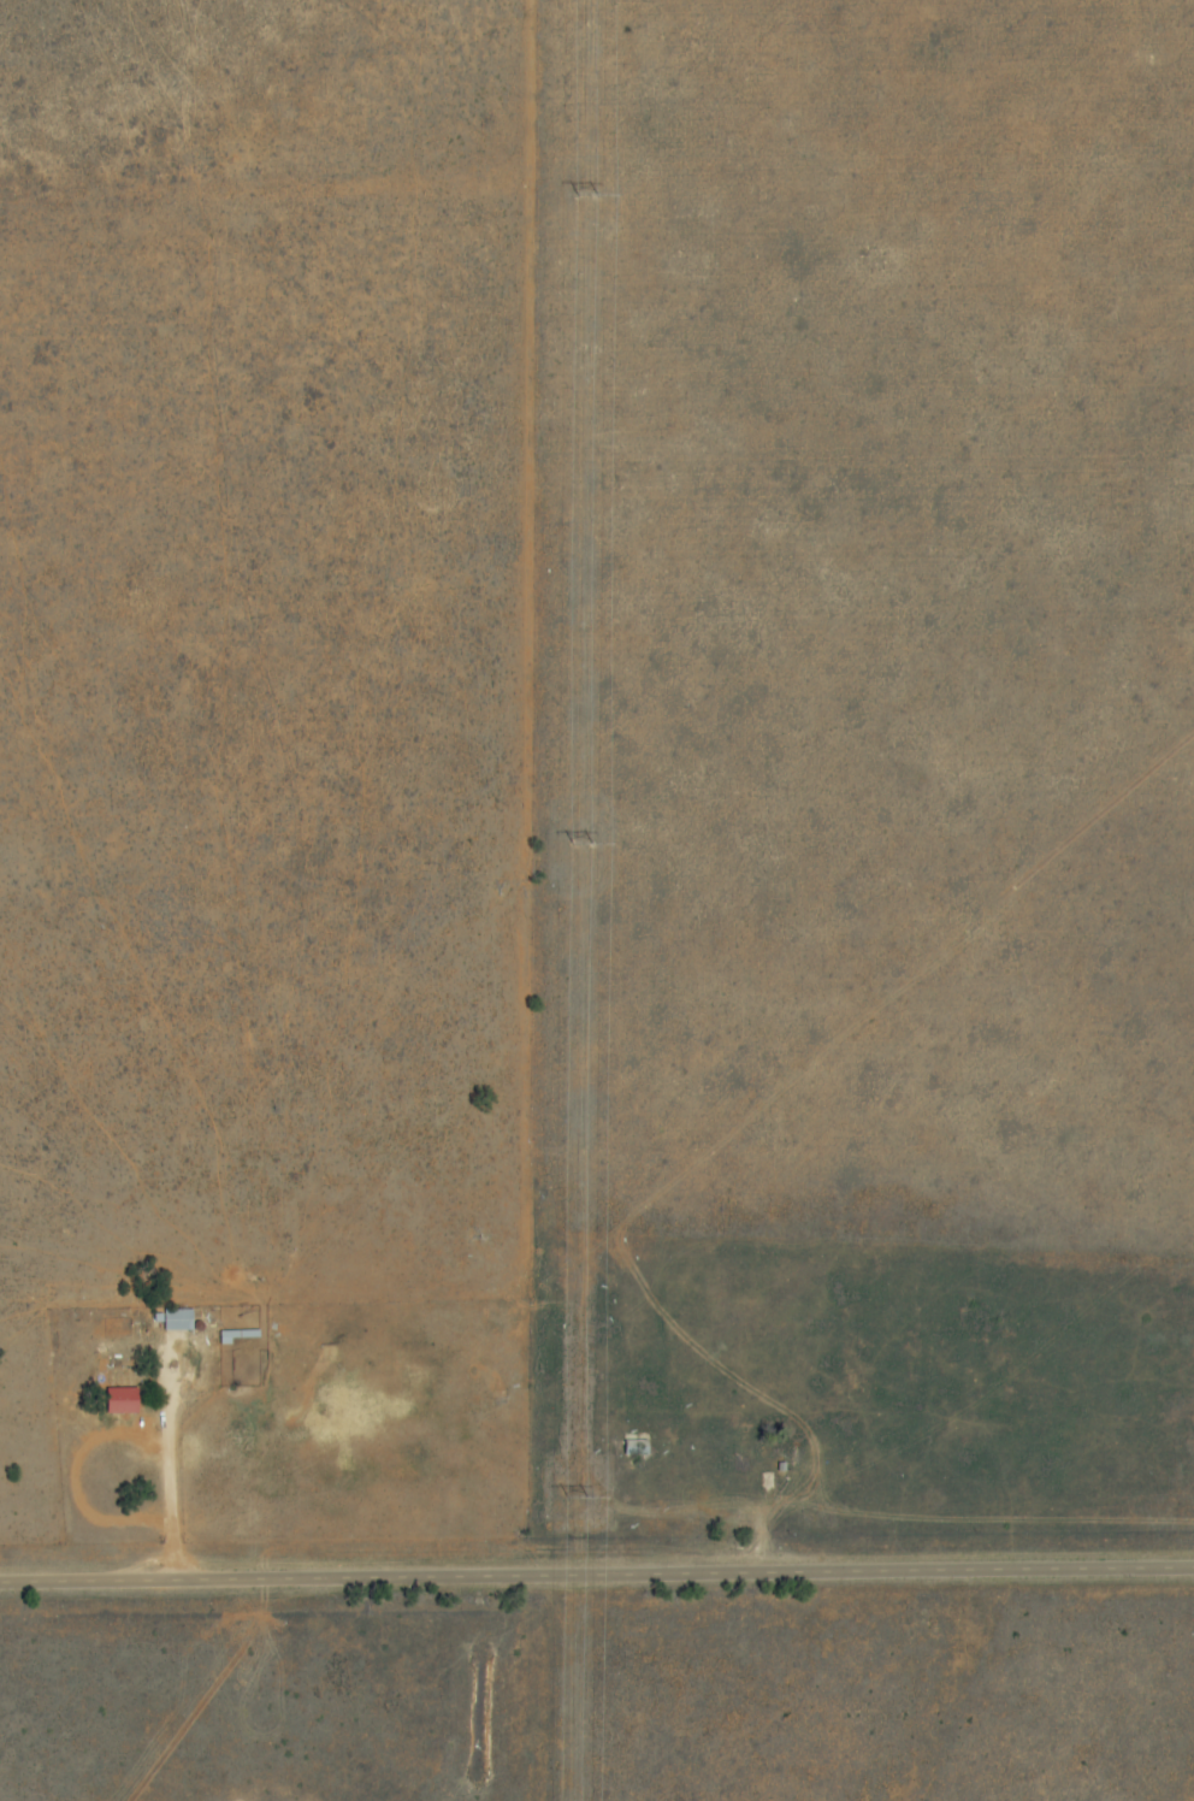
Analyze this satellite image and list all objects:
power tower: (585, 191)
power tower: (580, 844)
building: (179, 1318)
building: (240, 1336)
building: (123, 1399)
building: (637, 1446)
road: (172, 1474)
power tower: (574, 1499)
road: (597, 1581)

